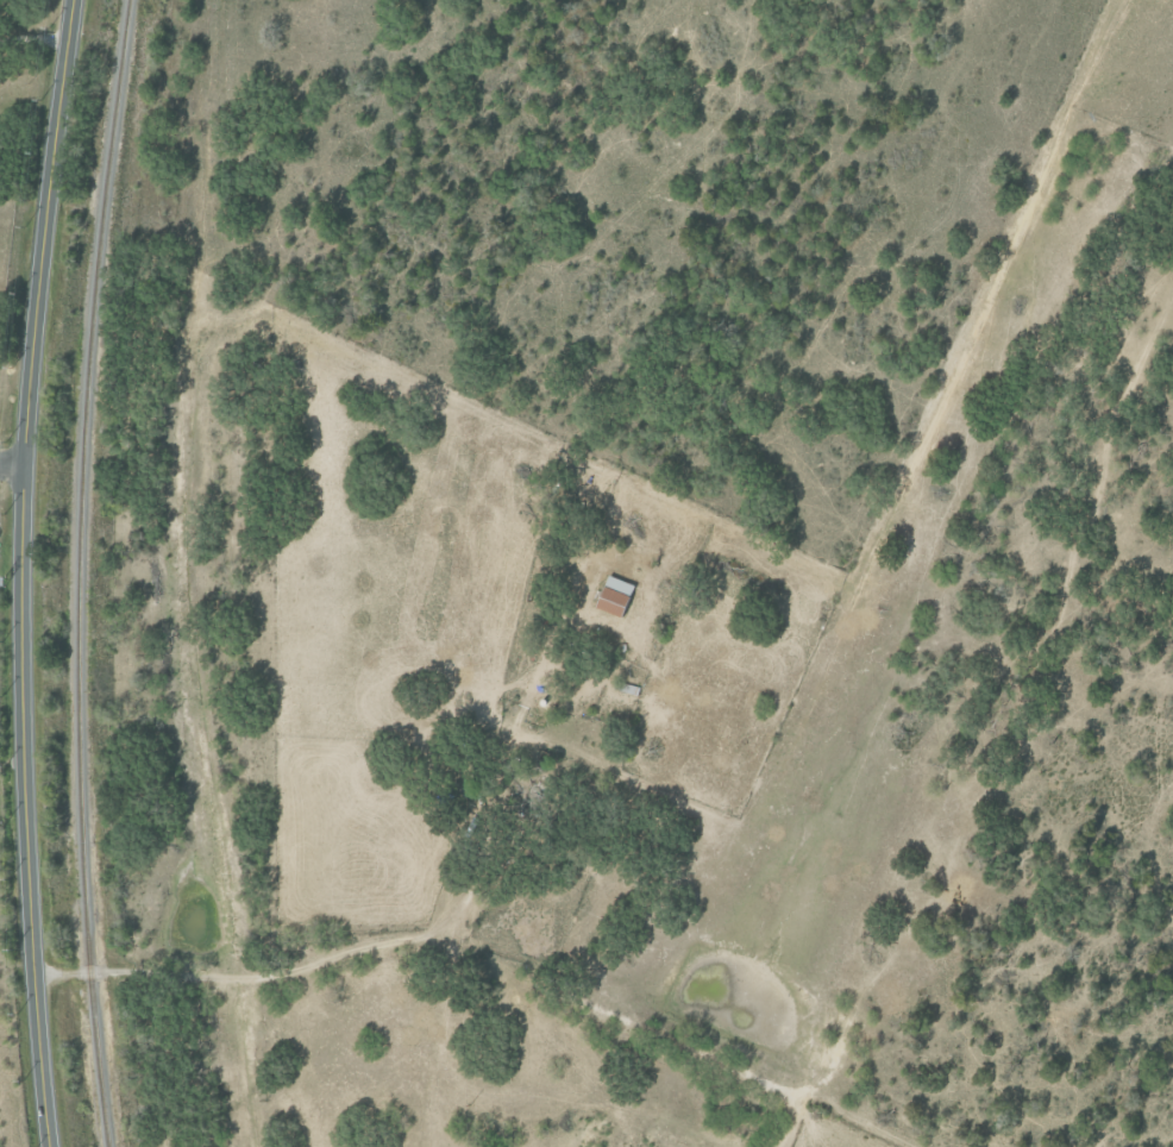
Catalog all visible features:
road: (33, 39)
road: (12, 465)
road: (23, 572)
railway: (76, 572)
building: (610, 596)
road: (269, 974)

